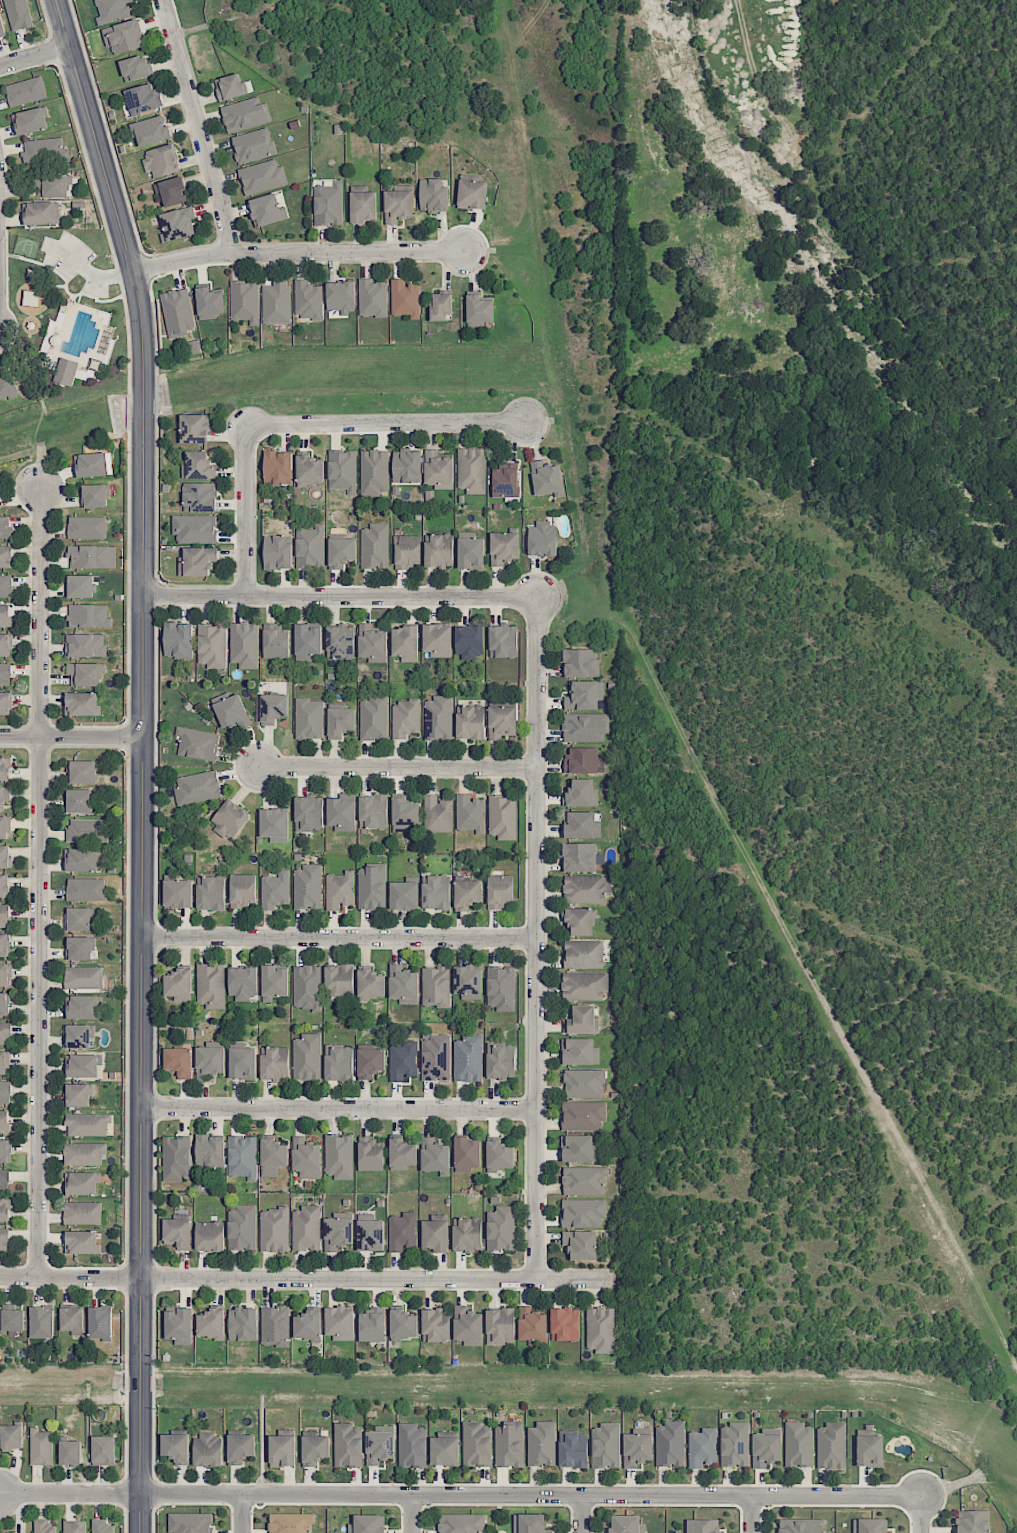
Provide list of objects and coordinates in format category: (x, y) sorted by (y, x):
building: (112, 9)
building: (18, 14)
building: (1, 28)
building: (124, 37)
road: (34, 56)
building: (135, 68)
building: (229, 87)
building: (25, 91)
building: (142, 98)
building: (245, 114)
building: (29, 120)
road: (198, 127)
building: (151, 130)
building: (253, 145)
building: (44, 149)
building: (161, 160)
building: (262, 176)
building: (52, 186)
building: (171, 190)
building: (433, 194)
building: (472, 194)
building: (329, 203)
building: (397, 205)
building: (363, 206)
building: (39, 212)
building: (177, 223)
road: (299, 254)
parking lot: (76, 262)
road: (59, 263)
road: (87, 272)
road: (94, 287)
road: (66, 288)
building: (340, 298)
building: (372, 298)
building: (307, 299)
building: (404, 299)
building: (244, 301)
building: (209, 302)
building: (276, 302)
building: (441, 306)
building: (479, 310)
building: (178, 311)
building: (193, 347)
building: (66, 371)
building: (7, 384)
road: (388, 423)
building: (194, 428)
building: (93, 464)
building: (198, 466)
building: (277, 466)
building: (406, 466)
building: (310, 469)
building: (343, 470)
building: (438, 470)
building: (471, 470)
building: (374, 472)
building: (546, 478)
building: (505, 480)
building: (94, 495)
building: (199, 496)
road: (246, 514)
building: (87, 527)
building: (5, 528)
building: (194, 528)
building: (542, 539)
building: (310, 546)
building: (374, 546)
building: (504, 547)
building: (438, 550)
building: (277, 551)
building: (406, 551)
building: (470, 551)
building: (341, 552)
building: (5, 556)
building: (92, 556)
building: (196, 561)
building: (5, 585)
building: (80, 586)
road: (339, 597)
building: (5, 615)
building: (88, 616)
building: (437, 639)
building: (178, 640)
building: (275, 641)
building: (340, 641)
building: (469, 641)
building: (502, 641)
building: (307, 642)
building: (372, 643)
building: (405, 643)
building: (4, 644)
building: (85, 644)
building: (244, 644)
building: (211, 645)
building: (580, 662)
building: (85, 673)
building: (5, 674)
building: (583, 695)
building: (5, 703)
building: (81, 703)
building: (273, 707)
building: (232, 712)
building: (438, 717)
building: (374, 718)
building: (405, 718)
building: (309, 719)
building: (339, 721)
building: (470, 722)
building: (502, 722)
building: (584, 727)
road: (71, 736)
building: (197, 743)
road: (143, 760)
building: (581, 760)
building: (4, 768)
road: (397, 768)
building: (197, 787)
building: (581, 793)
building: (4, 795)
building: (79, 800)
building: (373, 811)
building: (308, 813)
building: (469, 813)
building: (341, 814)
building: (404, 814)
building: (437, 814)
building: (502, 817)
building: (229, 819)
building: (274, 825)
building: (581, 825)
building: (3, 827)
building: (87, 830)
building: (4, 856)
building: (581, 857)
building: (81, 859)
road: (39, 882)
building: (3, 885)
building: (307, 886)
building: (371, 887)
building: (586, 888)
building: (85, 889)
building: (339, 889)
building: (242, 890)
building: (275, 890)
building: (436, 891)
building: (499, 891)
building: (177, 893)
building: (211, 893)
building: (467, 893)
building: (403, 895)
building: (5, 915)
building: (79, 918)
building: (580, 920)
road: (339, 939)
road: (536, 942)
building: (4, 945)
building: (79, 948)
building: (583, 953)
building: (4, 974)
building: (83, 977)
building: (468, 981)
building: (274, 982)
building: (339, 982)
building: (243, 983)
building: (370, 983)
building: (403, 984)
building: (179, 985)
building: (210, 985)
building: (584, 985)
building: (307, 987)
building: (436, 987)
building: (501, 988)
building: (3, 1003)
building: (82, 1007)
building: (582, 1020)
building: (5, 1033)
building: (77, 1036)
building: (580, 1051)
building: (307, 1057)
building: (435, 1058)
building: (468, 1058)
building: (403, 1060)
building: (500, 1060)
building: (178, 1061)
building: (209, 1061)
building: (3, 1062)
building: (339, 1062)
building: (370, 1062)
building: (242, 1063)
building: (274, 1063)
building: (82, 1065)
building: (583, 1083)
building: (5, 1091)
building: (78, 1094)
road: (339, 1109)
building: (583, 1114)
building: (4, 1121)
building: (87, 1124)
building: (579, 1148)
building: (5, 1151)
building: (210, 1151)
building: (84, 1153)
building: (467, 1153)
building: (370, 1154)
building: (402, 1154)
building: (434, 1155)
building: (498, 1155)
building: (242, 1156)
building: (339, 1156)
building: (176, 1158)
building: (306, 1158)
building: (4, 1179)
building: (584, 1180)
building: (81, 1183)
building: (4, 1209)
building: (83, 1212)
building: (582, 1212)
building: (242, 1227)
building: (306, 1228)
building: (501, 1228)
building: (274, 1229)
building: (402, 1231)
building: (178, 1232)
building: (370, 1232)
building: (337, 1233)
building: (467, 1234)
building: (435, 1235)
building: (209, 1236)
building: (4, 1238)
building: (81, 1242)
building: (581, 1244)
road: (308, 1280)
building: (12, 1320)
building: (72, 1320)
building: (42, 1321)
building: (100, 1322)
building: (242, 1323)
building: (339, 1323)
building: (211, 1324)
building: (404, 1324)
building: (564, 1324)
building: (179, 1325)
building: (371, 1325)
building: (436, 1325)
building: (532, 1325)
building: (275, 1326)
building: (308, 1326)
building: (468, 1326)
building: (500, 1326)
building: (600, 1329)
building: (11, 1437)
building: (670, 1443)
building: (476, 1444)
building: (509, 1444)
building: (542, 1444)
building: (735, 1444)
building: (799, 1444)
building: (347, 1445)
building: (380, 1445)
building: (412, 1445)
building: (606, 1445)
building: (831, 1445)
building: (40, 1447)
building: (702, 1447)
building: (176, 1448)
building: (240, 1448)
building: (572, 1448)
building: (208, 1449)
building: (315, 1449)
building: (637, 1449)
building: (766, 1449)
building: (103, 1450)
building: (282, 1450)
building: (870, 1450)
building: (444, 1451)
building: (70, 1452)
road: (459, 1496)
road: (243, 1514)
road: (413, 1514)
road: (582, 1514)
road: (752, 1514)
road: (921, 1518)
building: (973, 1521)
building: (190, 1522)
building: (291, 1523)
building: (462, 1523)
building: (530, 1523)
building: (366, 1524)
building: (627, 1524)
building: (800, 1525)
building: (869, 1525)
building: (43, 1526)
building: (74, 1526)
building: (101, 1526)
building: (703, 1526)

